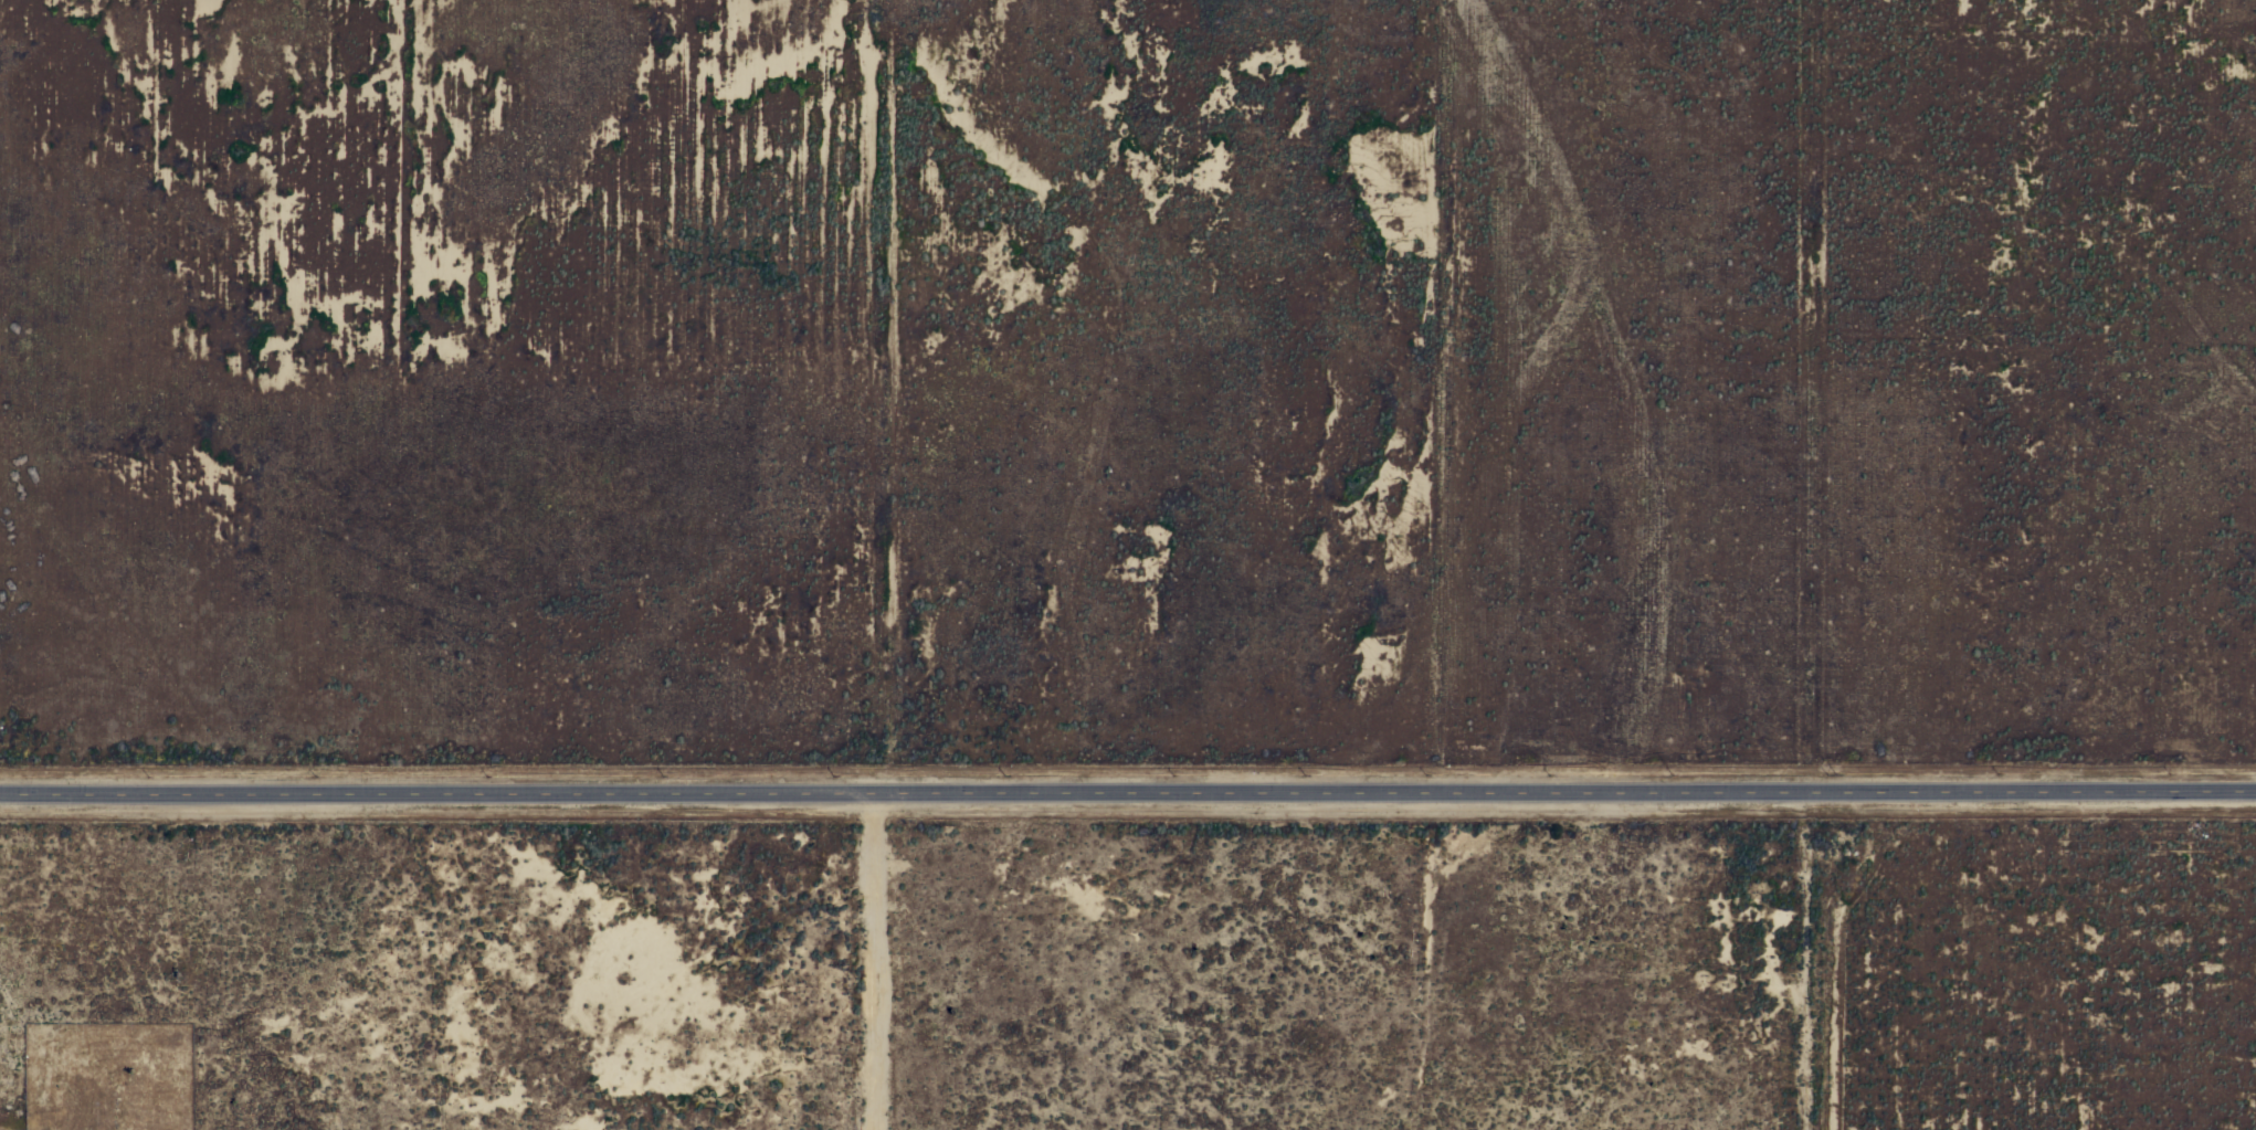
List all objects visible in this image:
road: (1128, 788)
road: (1457, 958)
road: (884, 959)

